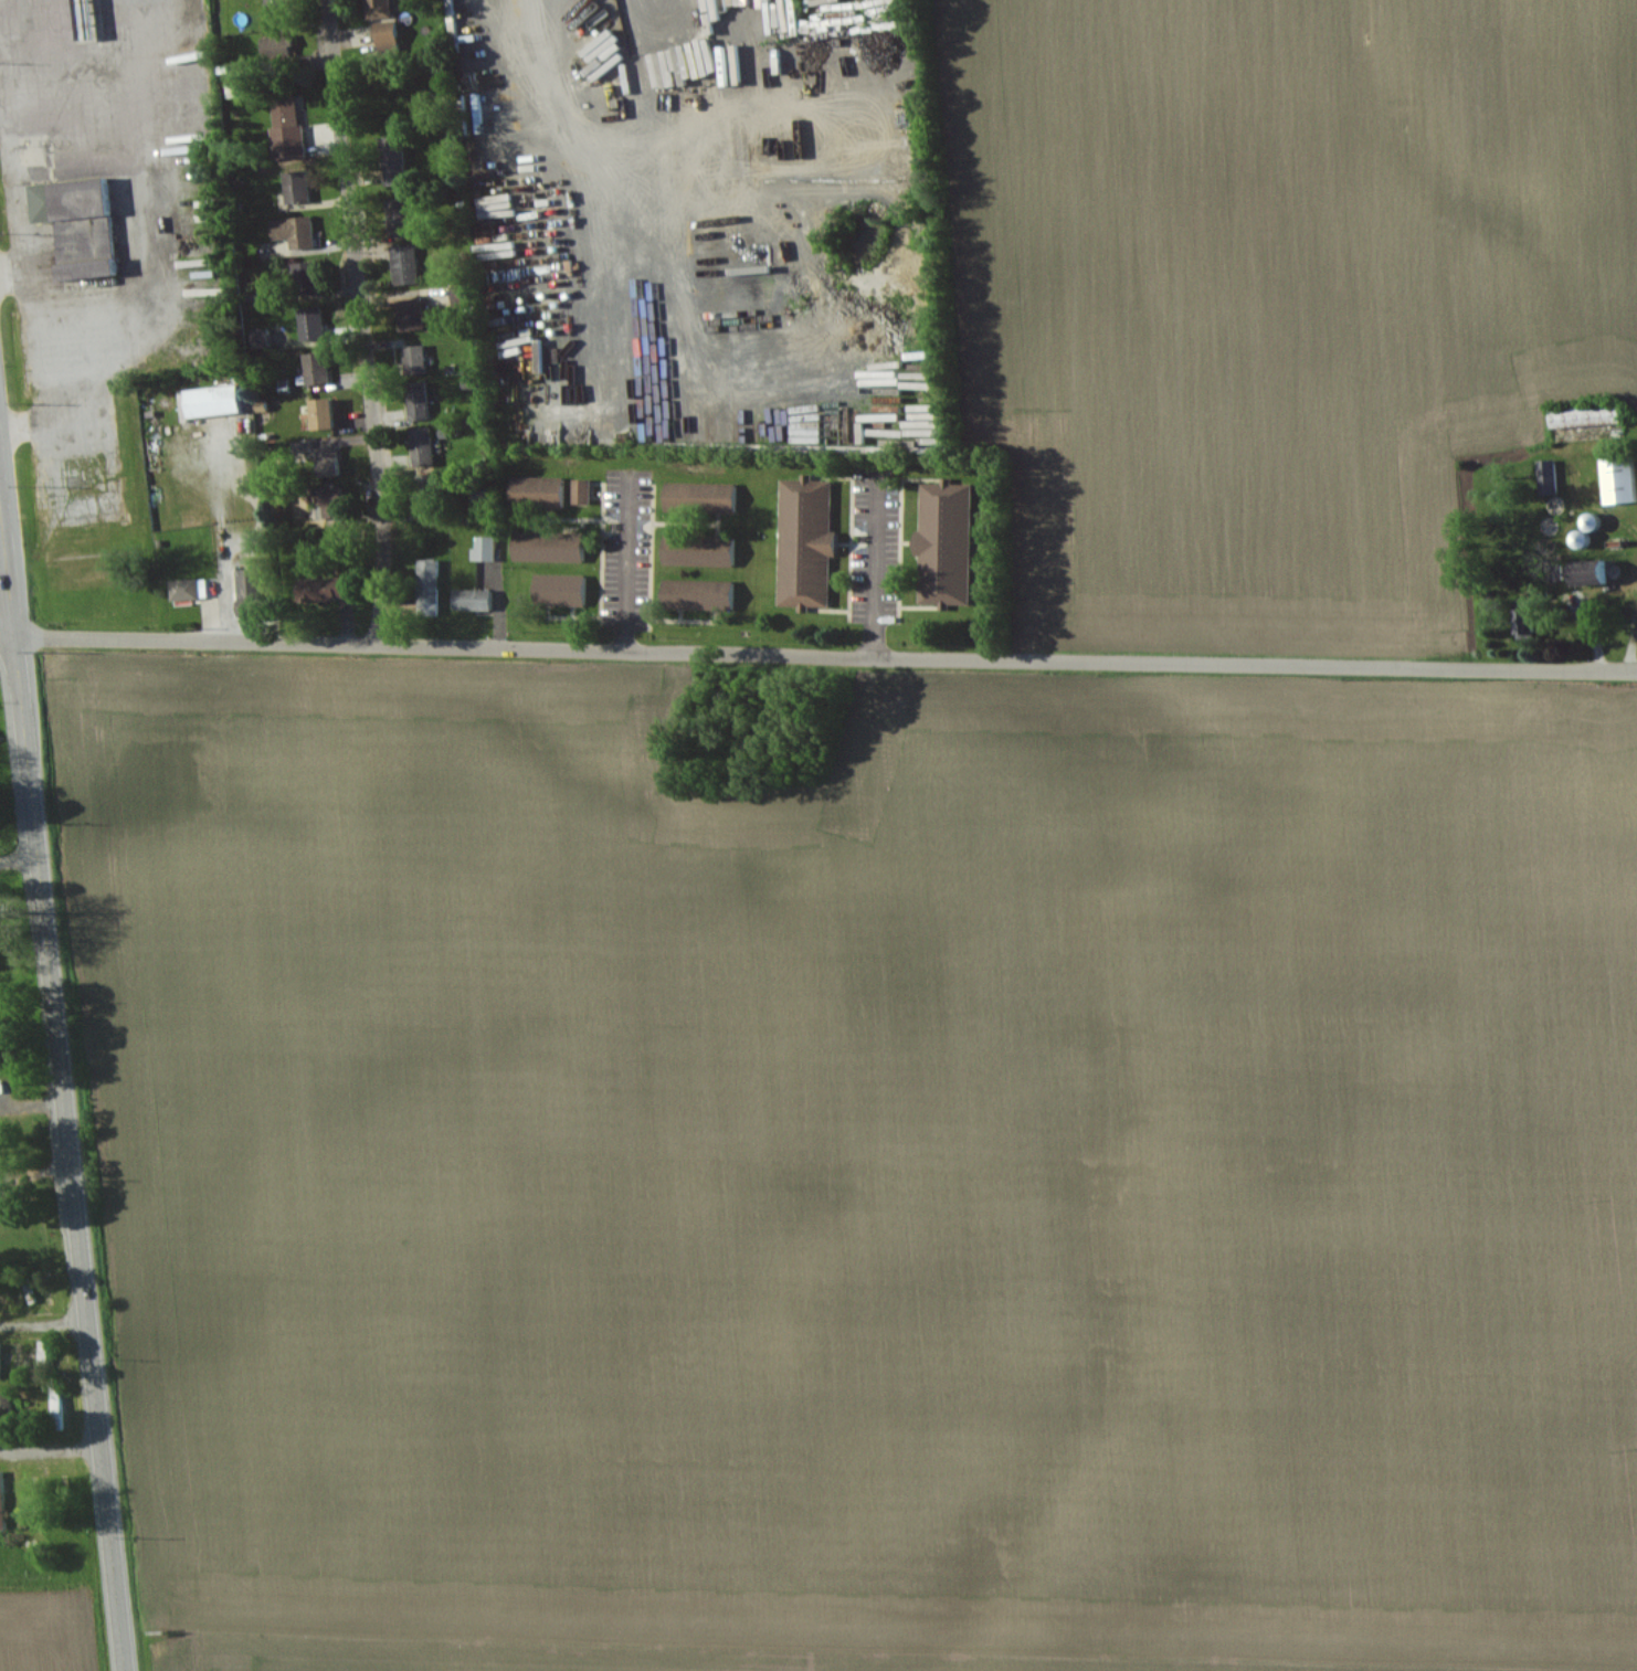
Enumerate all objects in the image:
building: (387, 24)
building: (682, 29)
road: (141, 39)
building: (282, 49)
road: (4, 72)
road: (27, 107)
building: (288, 114)
building: (397, 160)
building: (300, 190)
road: (21, 208)
building: (402, 216)
building: (87, 225)
building: (298, 232)
building: (409, 264)
road: (144, 274)
building: (313, 279)
building: (414, 315)
road: (361, 320)
building: (315, 326)
road: (40, 351)
building: (320, 369)
building: (421, 382)
building: (220, 401)
building: (329, 414)
building: (426, 448)
building: (332, 462)
building: (1624, 478)
building: (540, 491)
building: (585, 491)
building: (430, 496)
building: (705, 498)
building: (335, 501)
building: (553, 538)
road: (225, 540)
building: (811, 542)
building: (943, 549)
building: (703, 550)
road: (629, 567)
road: (877, 574)
building: (431, 584)
building: (329, 588)
building: (193, 590)
building: (564, 590)
building: (703, 594)
building: (477, 600)
road: (6, 603)
road: (825, 655)
road: (63, 1090)
road: (44, 1325)
road: (51, 1450)
building: (3, 1501)
building: (34, 1514)

